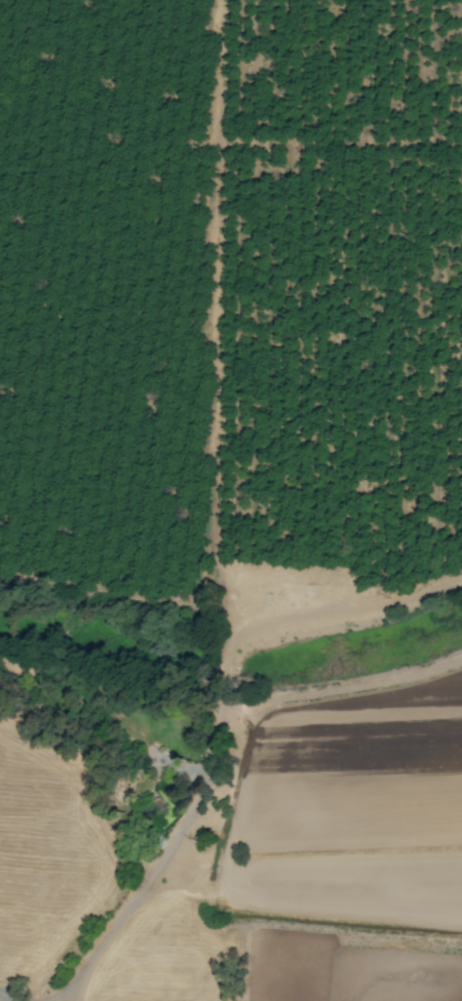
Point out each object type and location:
road: (141, 884)
road: (57, 990)
road: (9, 997)

